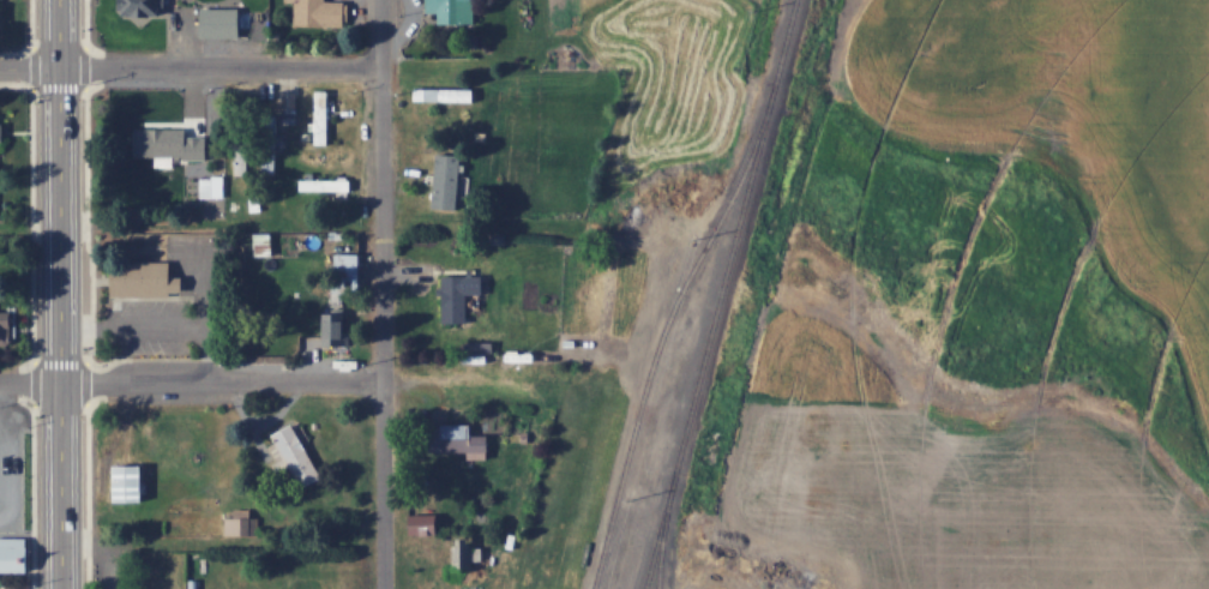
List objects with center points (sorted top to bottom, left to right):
building: (449, 10)
building: (324, 12)
building: (1, 14)
building: (223, 20)
road: (193, 68)
building: (2, 128)
building: (176, 167)
building: (326, 182)
building: (265, 244)
building: (349, 272)
building: (143, 280)
road: (61, 294)
road: (386, 294)
building: (461, 294)
railway: (721, 294)
crop: (999, 302)
building: (332, 327)
railway: (660, 343)
road: (192, 377)
building: (461, 439)
building: (299, 456)
building: (132, 482)
building: (16, 551)
railway: (660, 552)
building: (463, 553)

